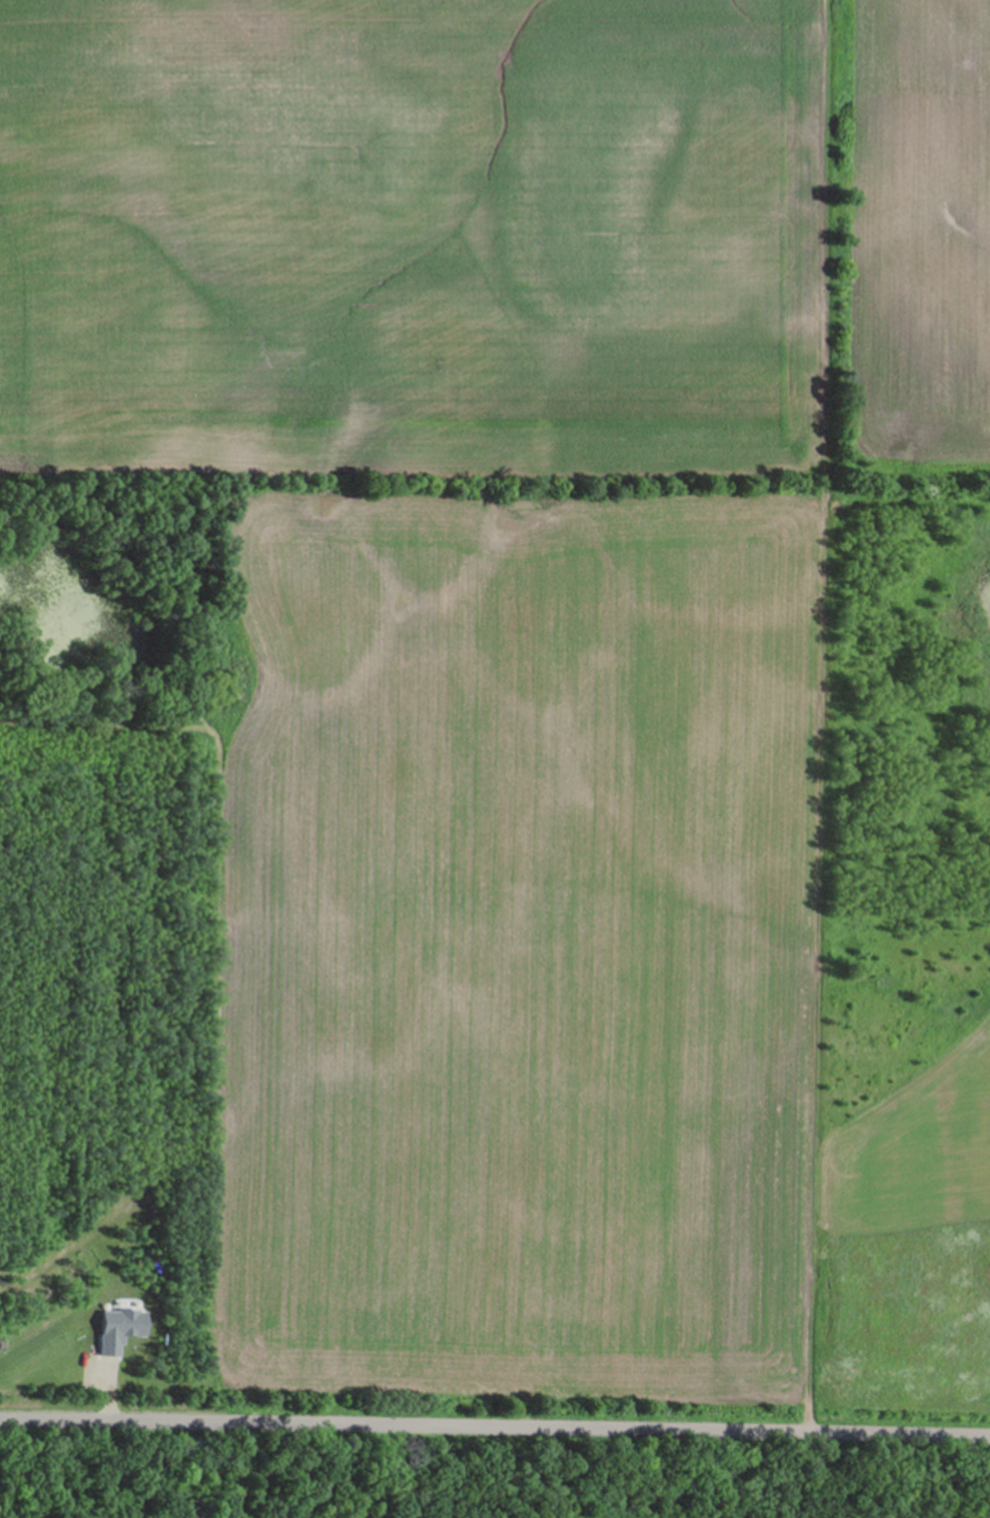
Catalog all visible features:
road: (495, 1426)
road: (647, 1473)

